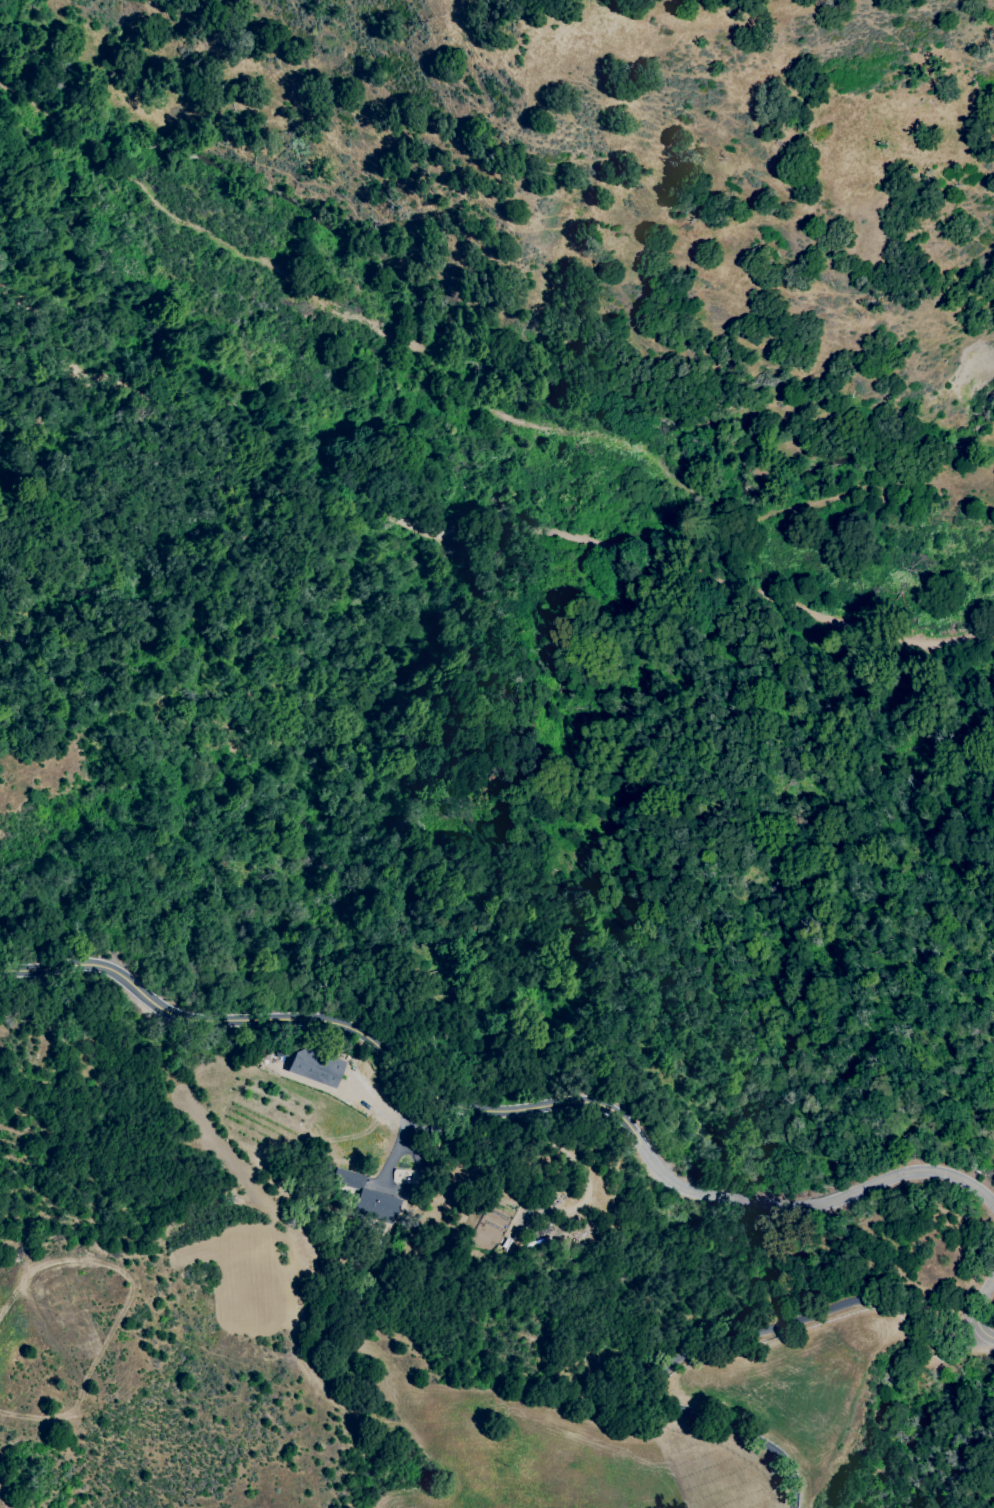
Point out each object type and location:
road: (492, 373)
building: (313, 1066)
road: (500, 1108)
road: (978, 1295)
road: (983, 1330)
road: (715, 1343)

